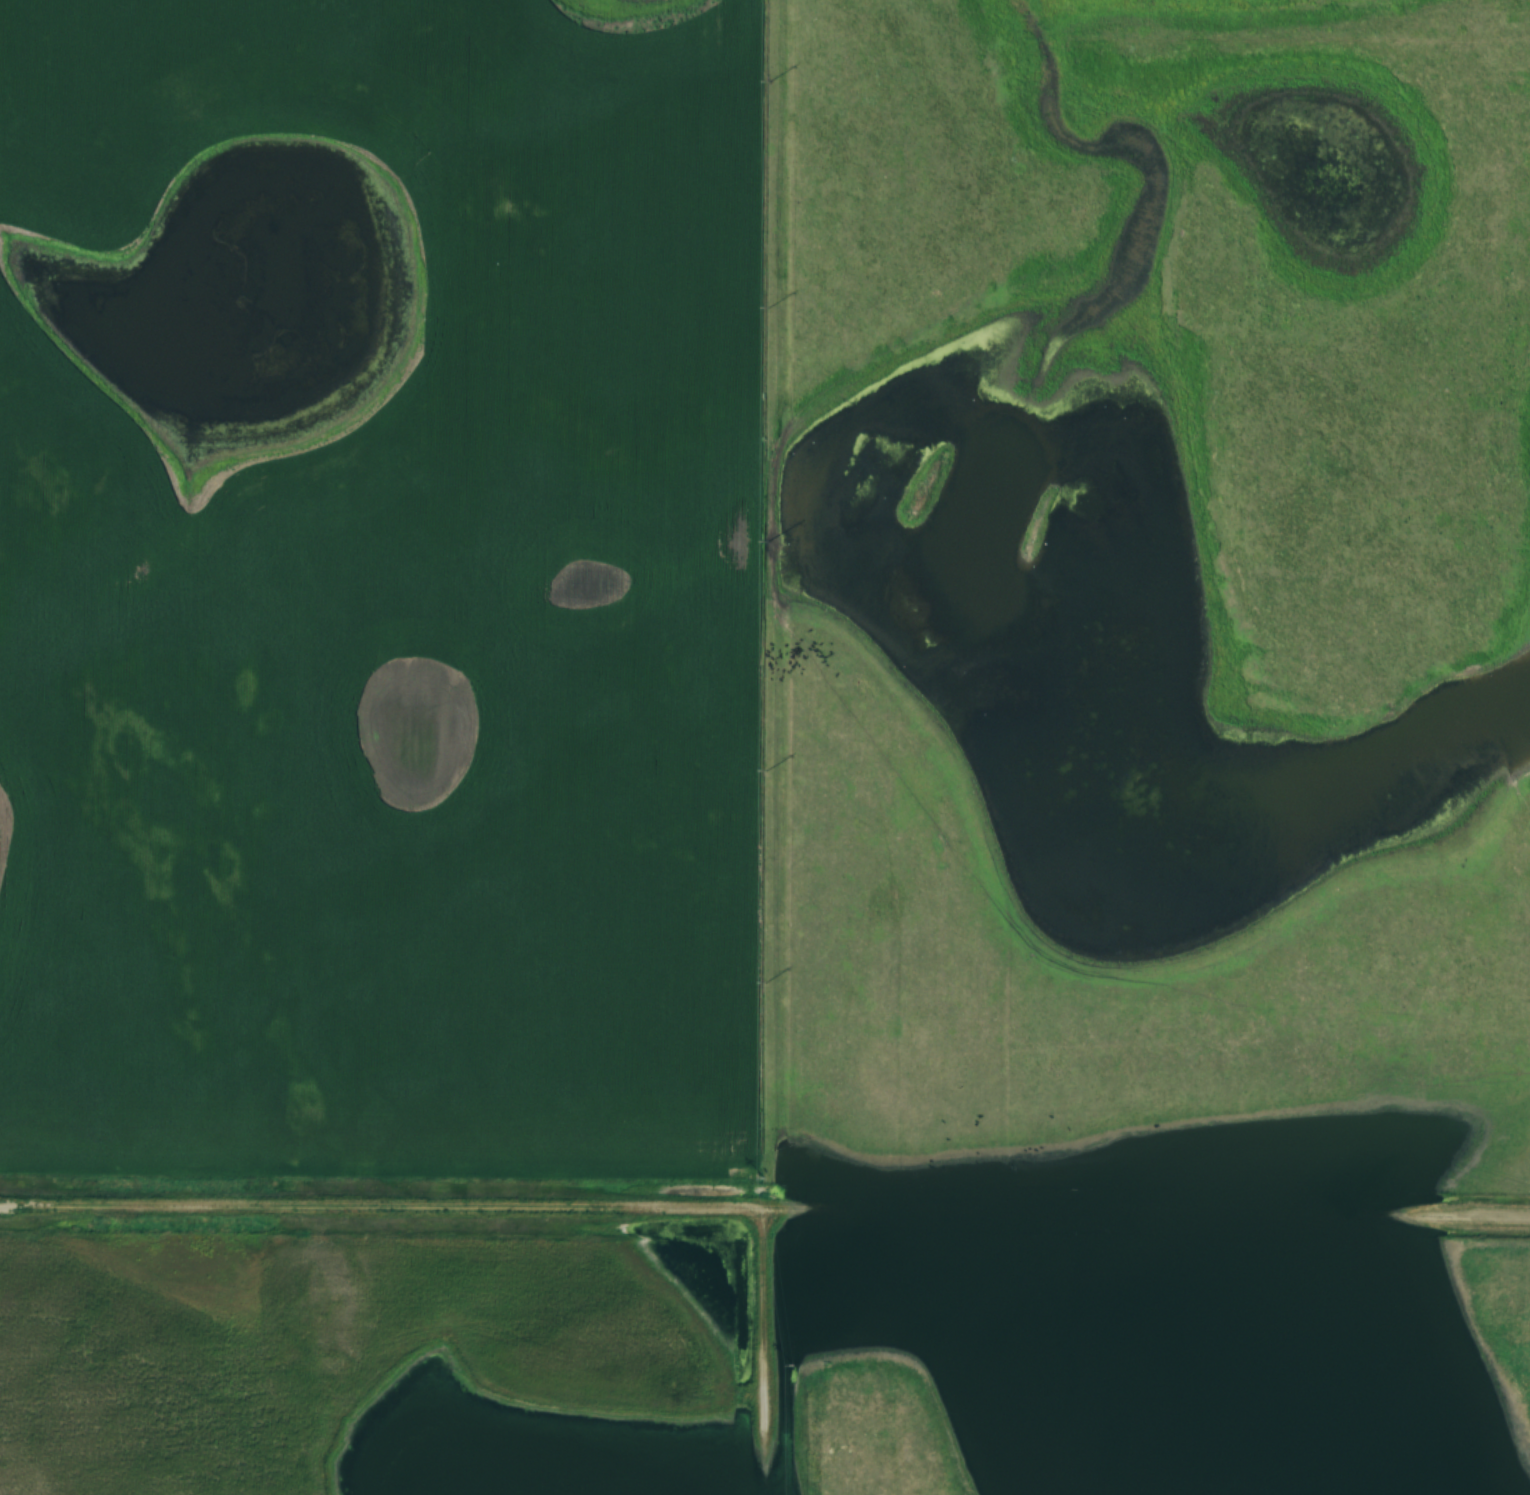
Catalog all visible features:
road: (765, 1207)
road: (765, 1351)

